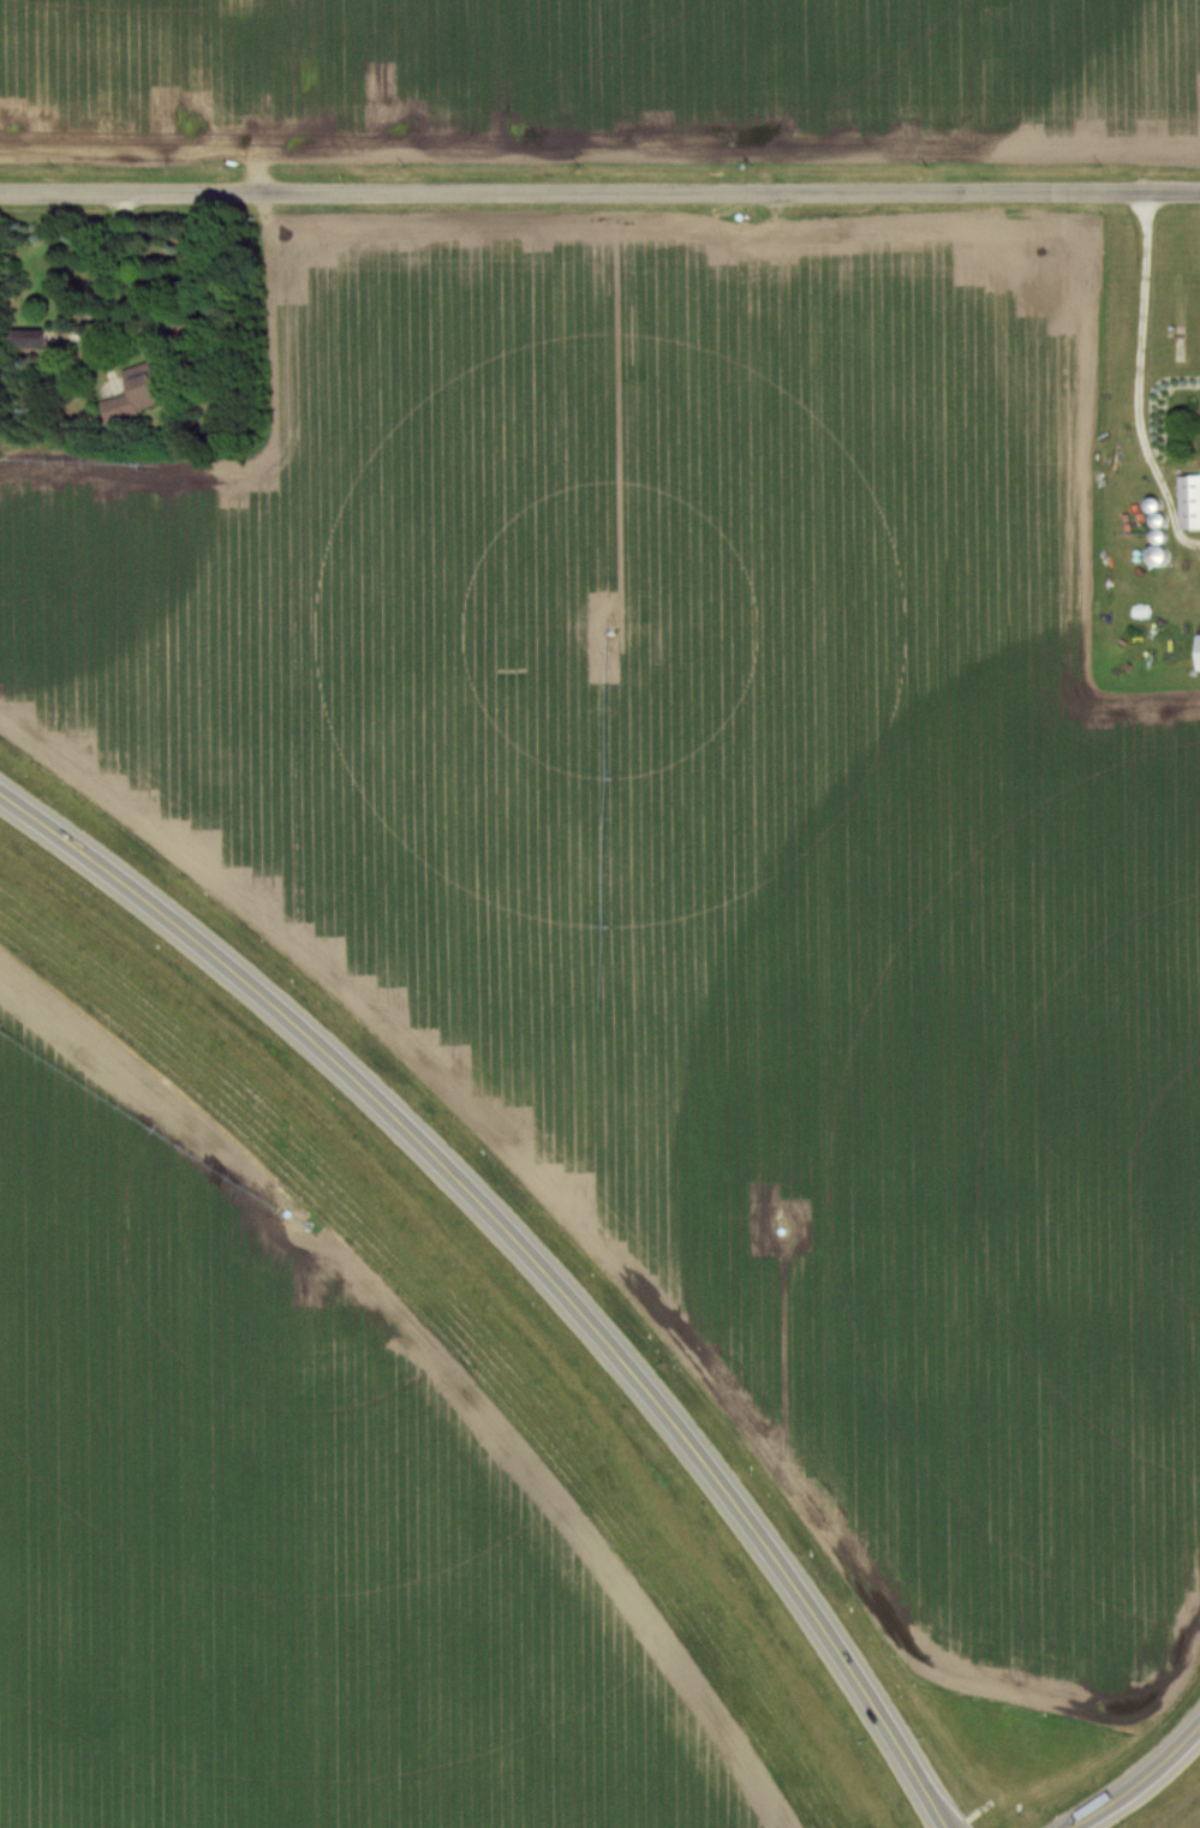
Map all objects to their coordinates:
crop: (117, 78)
crop: (735, 79)
road: (599, 192)
building: (37, 340)
building: (141, 394)
building: (1193, 503)
crop: (729, 835)
road: (536, 1249)
crop: (332, 1596)
road: (1135, 1779)

